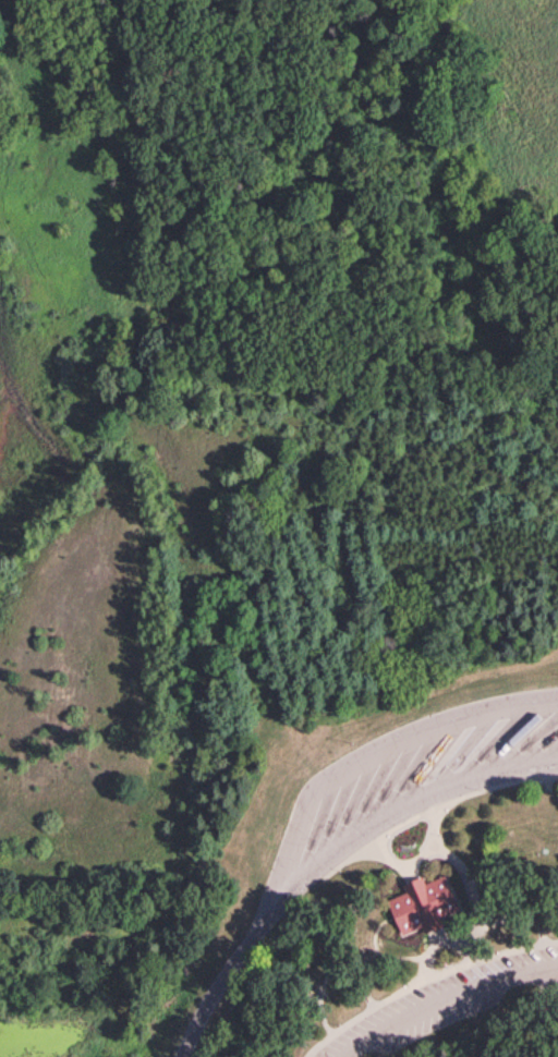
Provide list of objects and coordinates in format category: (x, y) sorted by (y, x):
road: (360, 761)
parking lot: (416, 776)
road: (433, 809)
road: (433, 842)
road: (330, 855)
road: (395, 861)
road: (472, 885)
road: (556, 901)
building: (423, 907)
road: (513, 912)
road: (462, 941)
road: (427, 953)
road: (343, 956)
road: (424, 980)
road: (446, 1000)
parking lot: (449, 1003)

